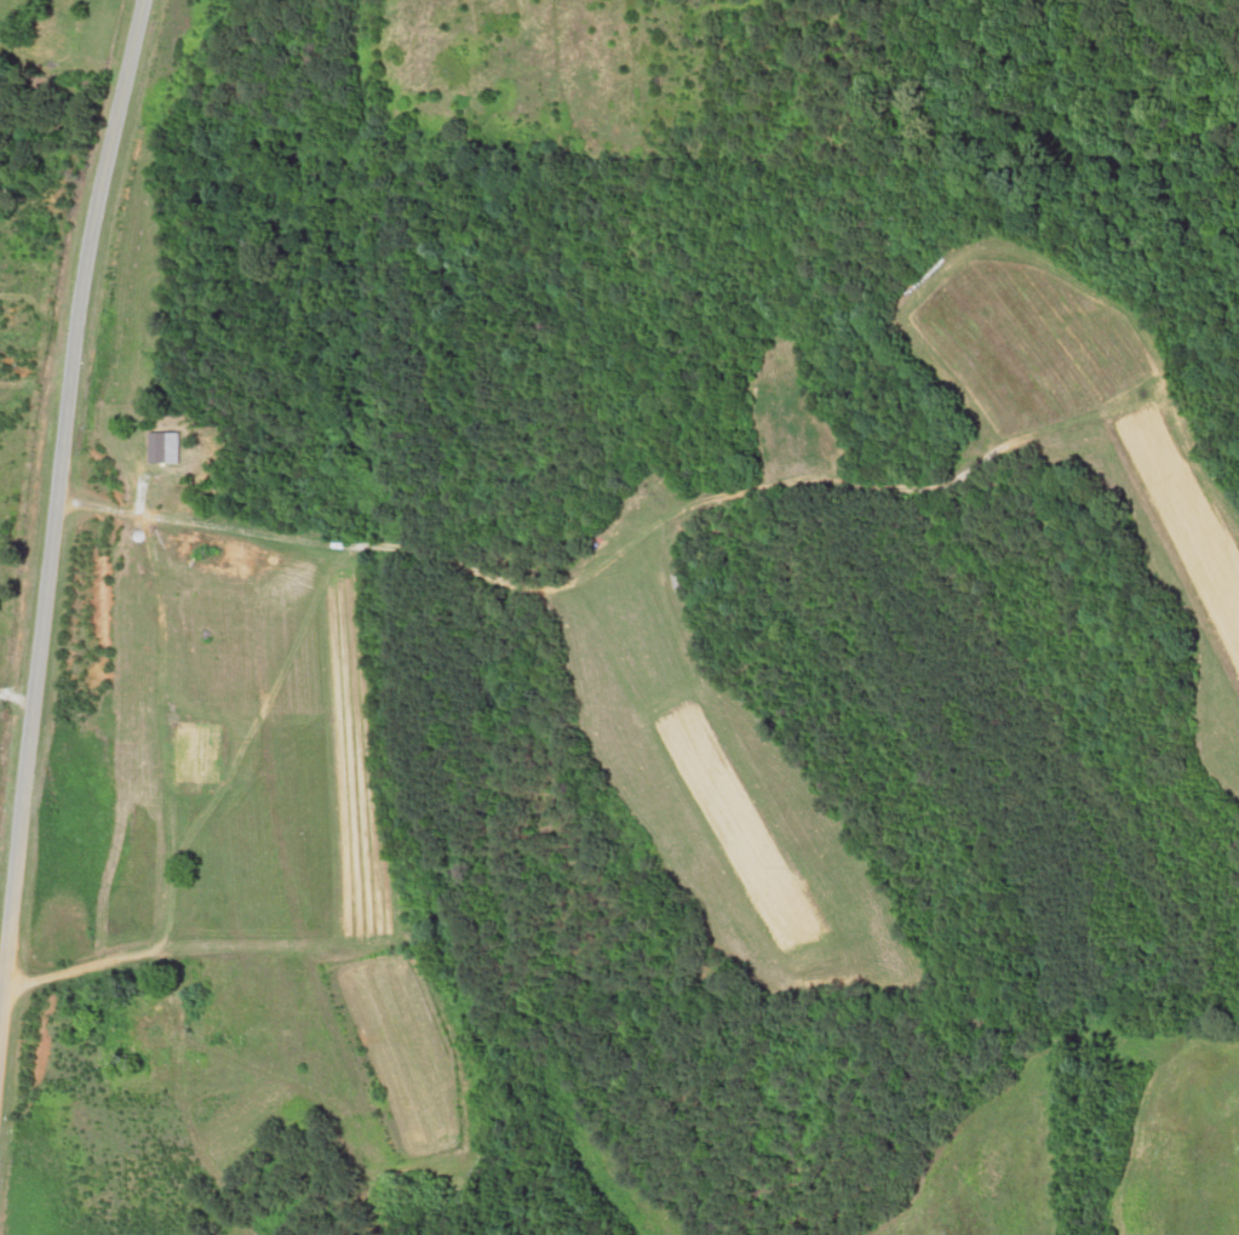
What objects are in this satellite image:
road: (63, 332)
building: (206, 754)
building: (168, 1025)

